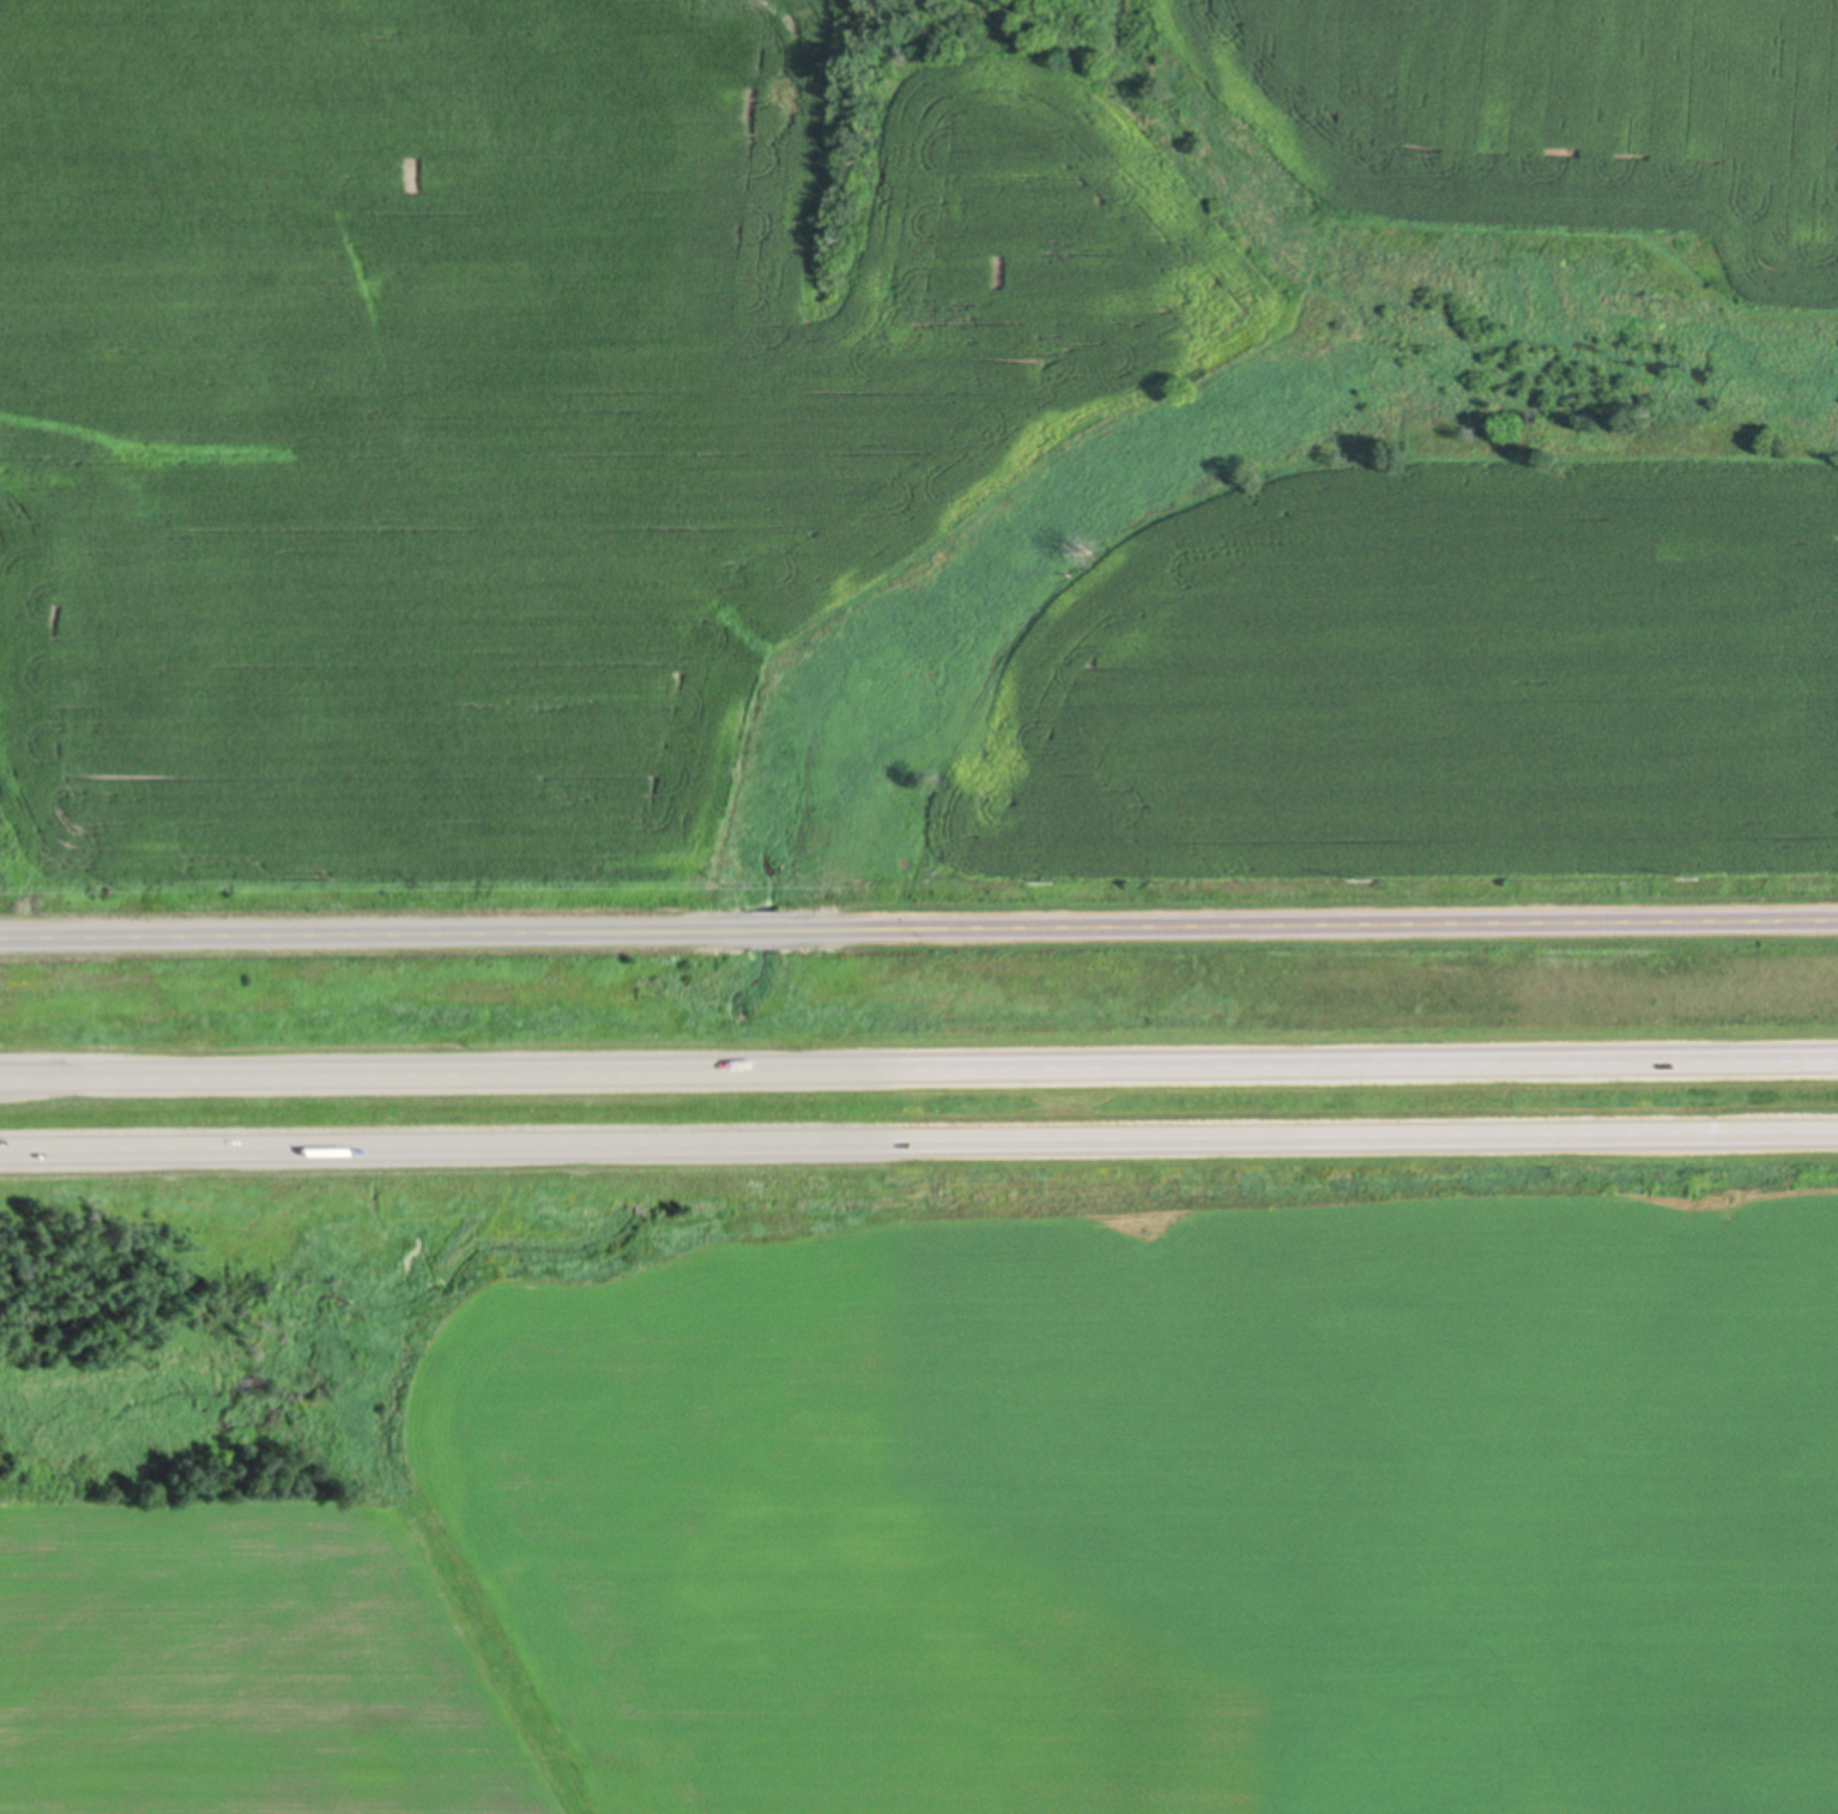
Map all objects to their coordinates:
road: (1307, 924)
road: (764, 927)
road: (376, 929)
road: (918, 1062)
road: (918, 1135)
crop: (1018, 1534)

